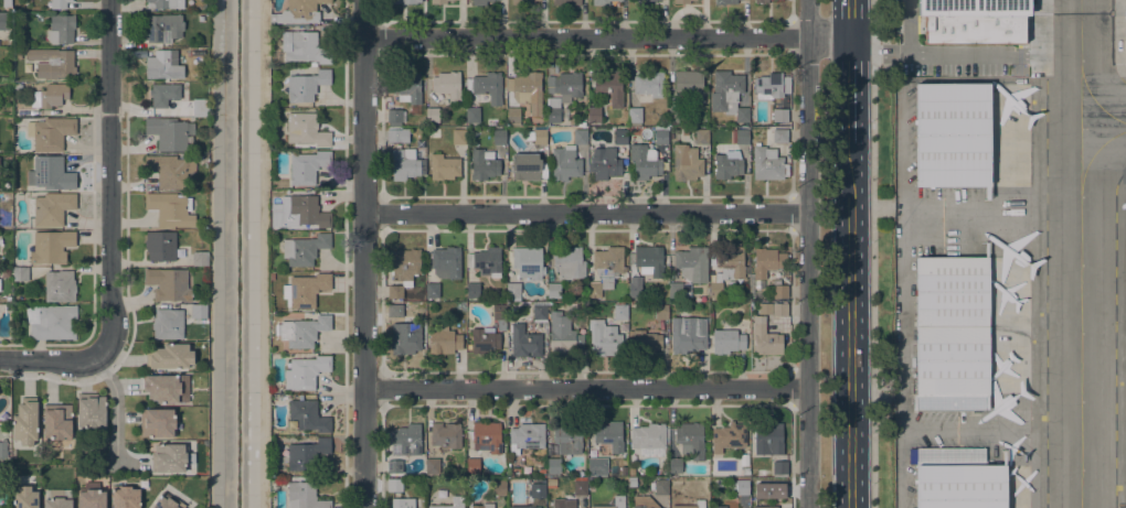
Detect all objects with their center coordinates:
building: (72, 0)
building: (497, 0)
building: (402, 1)
building: (439, 1)
building: (523, 1)
building: (682, 1)
building: (761, 1)
building: (479, 2)
building: (566, 2)
building: (602, 2)
building: (640, 2)
building: (724, 2)
building: (7, 3)
building: (161, 3)
building: (59, 4)
building: (298, 13)
road: (850, 18)
airport hangar: (974, 21)
building: (974, 21)
building: (7, 22)
building: (163, 28)
building: (60, 29)
road: (606, 36)
building: (302, 47)
building: (15, 52)
building: (50, 64)
building: (162, 66)
building: (647, 83)
building: (690, 85)
building: (786, 85)
building: (306, 86)
building: (768, 86)
building: (407, 87)
building: (447, 87)
building: (486, 87)
building: (610, 87)
road: (851, 88)
building: (527, 90)
building: (562, 94)
building: (163, 95)
building: (729, 95)
building: (50, 96)
airport taxiway: (1094, 102)
building: (200, 108)
building: (432, 115)
building: (593, 115)
building: (676, 115)
building: (513, 116)
building: (779, 116)
building: (395, 117)
building: (472, 117)
building: (634, 117)
building: (491, 122)
building: (305, 130)
building: (50, 133)
building: (168, 133)
building: (660, 134)
airport hangar: (952, 134)
building: (952, 134)
building: (394, 136)
building: (779, 136)
building: (458, 137)
building: (498, 137)
building: (537, 137)
building: (580, 137)
building: (620, 137)
building: (701, 137)
building: (742, 137)
airport taxiway: (1092, 156)
building: (644, 162)
building: (565, 163)
building: (604, 163)
building: (404, 164)
building: (484, 164)
building: (767, 164)
building: (727, 165)
building: (307, 166)
building: (686, 166)
building: (444, 167)
building: (525, 167)
building: (169, 171)
building: (50, 174)
building: (50, 208)
building: (170, 209)
building: (302, 212)
road: (585, 212)
road: (109, 238)
building: (160, 246)
building: (51, 247)
building: (304, 249)
road: (264, 253)
road: (363, 253)
road: (808, 253)
road: (872, 253)
airport: (1009, 253)
airport taxiway: (1081, 253)
building: (200, 259)
building: (649, 259)
building: (486, 261)
building: (766, 261)
building: (446, 262)
building: (528, 262)
building: (569, 263)
building: (605, 269)
building: (725, 270)
building: (403, 271)
building: (689, 271)
building: (20, 274)
building: (272, 277)
building: (168, 284)
building: (758, 284)
building: (60, 287)
building: (305, 290)
building: (635, 290)
building: (432, 291)
building: (472, 291)
building: (553, 291)
building: (513, 292)
building: (779, 292)
building: (9, 300)
building: (633, 301)
building: (779, 309)
building: (394, 310)
building: (199, 311)
building: (620, 311)
building: (540, 312)
building: (660, 312)
building: (499, 316)
building: (55, 323)
building: (167, 324)
road: (851, 324)
building: (304, 332)
building: (688, 334)
airport hangar: (952, 334)
building: (952, 334)
building: (564, 335)
building: (405, 338)
building: (604, 338)
building: (765, 338)
building: (444, 339)
building: (730, 339)
building: (485, 341)
building: (523, 342)
building: (646, 343)
building: (169, 357)
road: (47, 360)
building: (305, 372)
road: (585, 387)
building: (166, 388)
building: (91, 411)
building: (306, 417)
building: (57, 421)
building: (25, 422)
building: (157, 423)
building: (609, 436)
building: (648, 436)
building: (445, 437)
building: (487, 437)
building: (525, 437)
building: (729, 437)
building: (406, 440)
building: (567, 440)
building: (690, 440)
building: (768, 440)
building: (3, 451)
building: (649, 452)
building: (306, 454)
building: (169, 458)
building: (744, 460)
building: (674, 465)
building: (472, 466)
building: (553, 466)
building: (596, 466)
building: (432, 467)
building: (394, 468)
building: (779, 468)
building: (631, 472)
building: (746, 472)
building: (510, 475)
building: (957, 478)
building: (631, 482)
building: (394, 485)
building: (778, 486)
building: (659, 487)
building: (740, 487)
building: (499, 488)
building: (581, 488)
building: (538, 490)
building: (304, 496)
building: (125, 497)
building: (24, 498)
building: (91, 498)
building: (56, 502)
building: (163, 502)
building: (402, 502)
building: (452, 502)
building: (557, 502)
building: (614, 502)
building: (644, 502)
building: (700, 502)
building: (482, 506)
building: (522, 507)
building: (720, 507)
building: (765, 507)

